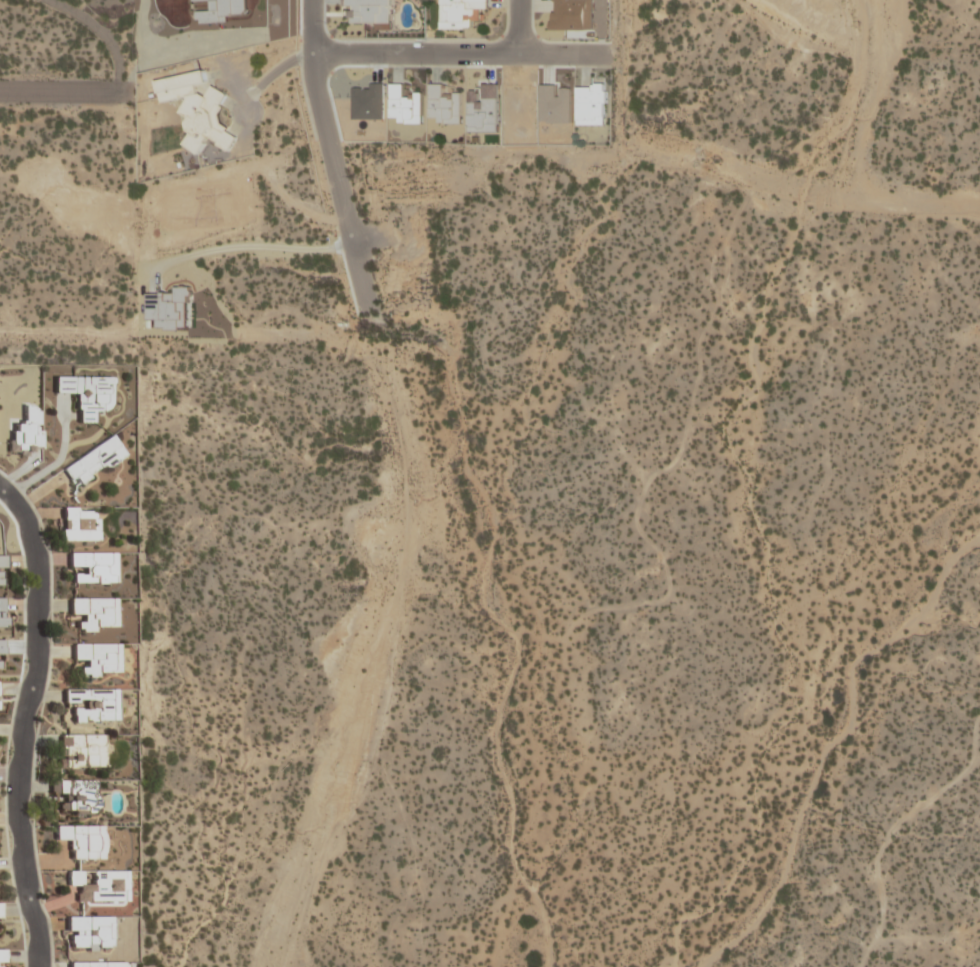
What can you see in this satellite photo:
building: (462, 13)
road: (516, 27)
road: (96, 33)
road: (459, 53)
road: (59, 92)
building: (590, 103)
building: (443, 105)
building: (404, 106)
building: (198, 110)
road: (330, 155)
road: (365, 237)
road: (251, 246)
building: (86, 394)
building: (94, 460)
building: (79, 524)
building: (93, 568)
building: (1, 570)
building: (2, 612)
building: (94, 613)
building: (98, 658)
building: (90, 705)
road: (28, 722)
building: (81, 751)
building: (75, 796)
building: (82, 840)
building: (98, 887)
building: (0, 911)
building: (90, 933)
building: (1, 957)
building: (98, 964)

